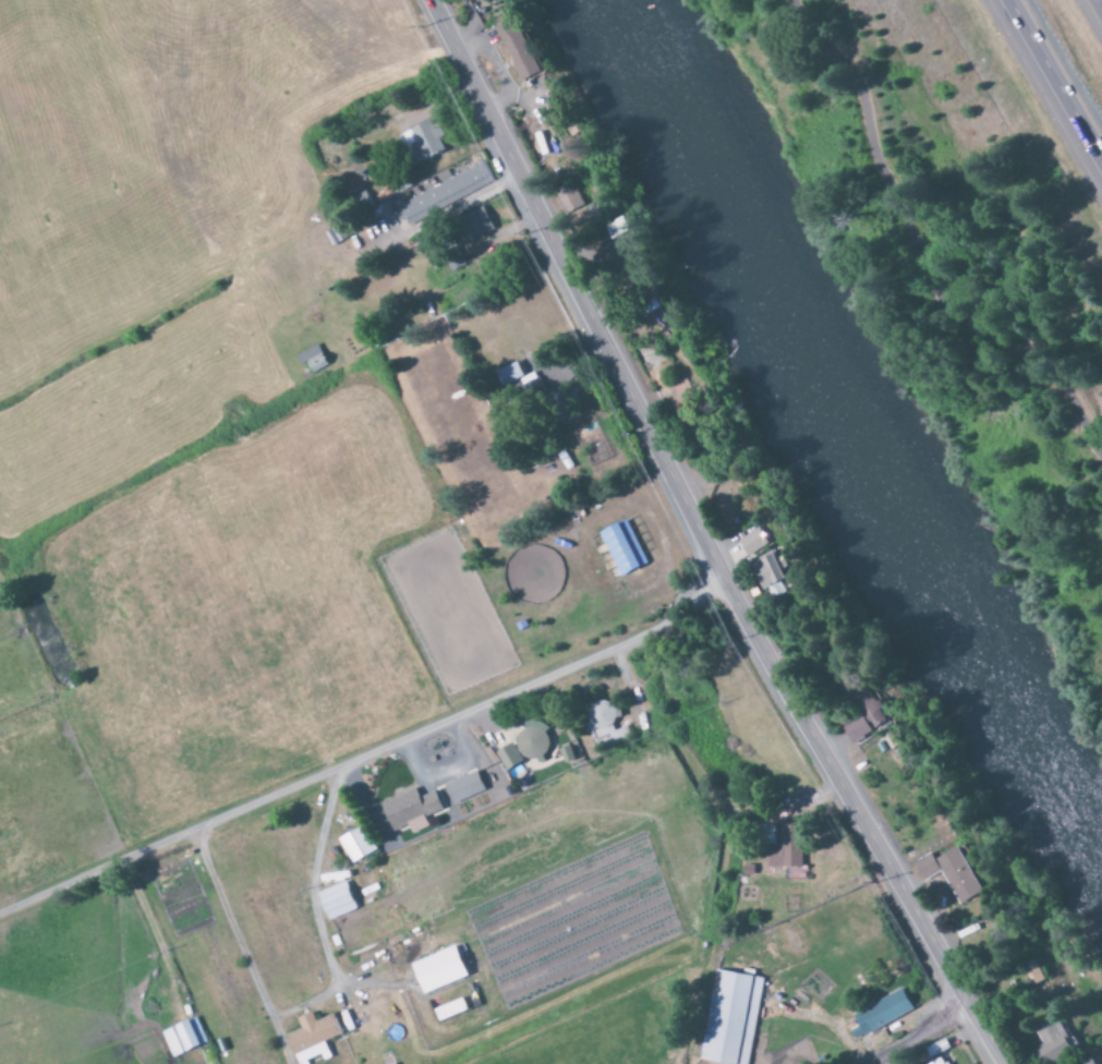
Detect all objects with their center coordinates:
road: (1100, 3)
building: (521, 50)
road: (1059, 73)
building: (428, 140)
building: (444, 195)
building: (578, 214)
building: (481, 223)
building: (620, 229)
road: (920, 249)
river: (836, 437)
road: (709, 535)
building: (751, 542)
building: (620, 547)
building: (765, 571)
building: (862, 714)
building: (603, 721)
building: (535, 740)
building: (511, 758)
building: (465, 787)
building: (413, 810)
building: (359, 845)
building: (785, 849)
building: (950, 873)
building: (339, 900)
building: (444, 970)
building: (1031, 972)
building: (879, 1015)
building: (729, 1018)
building: (184, 1038)
building: (315, 1038)
road: (929, 1039)
building: (1050, 1042)
building: (936, 1062)
building: (1087, 1062)

